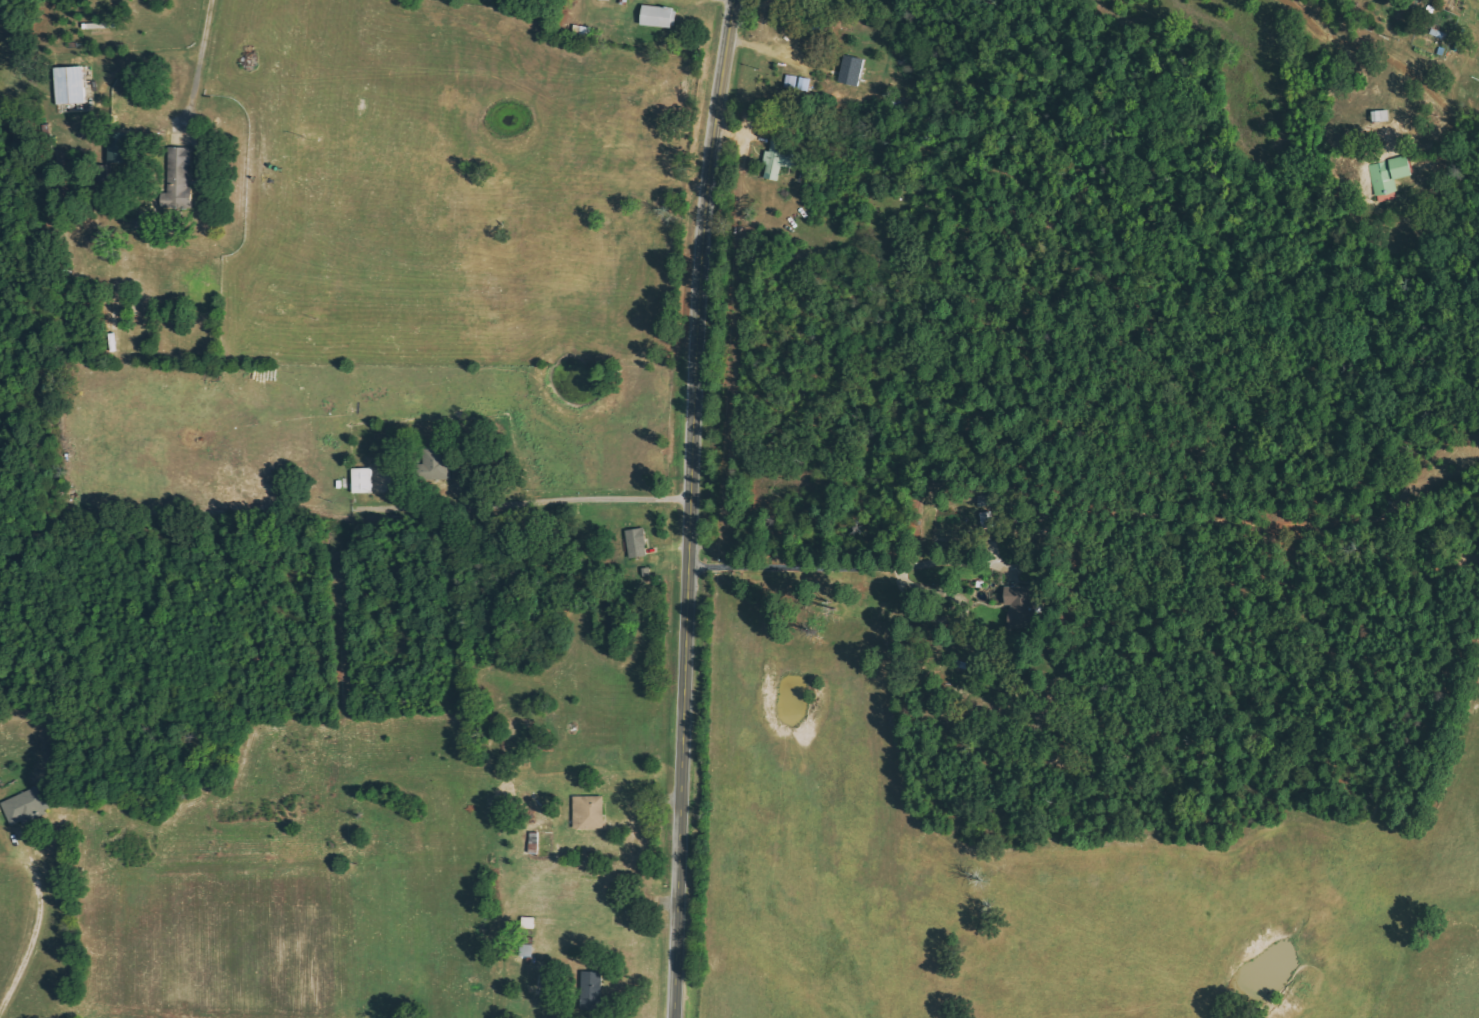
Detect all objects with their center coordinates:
building: (658, 17)
building: (851, 70)
building: (69, 85)
building: (118, 148)
building: (780, 160)
building: (1389, 175)
building: (180, 176)
building: (434, 462)
building: (361, 480)
road: (694, 508)
building: (637, 542)
building: (1019, 602)
building: (27, 804)
building: (589, 811)
building: (528, 923)
building: (527, 950)
building: (591, 989)

